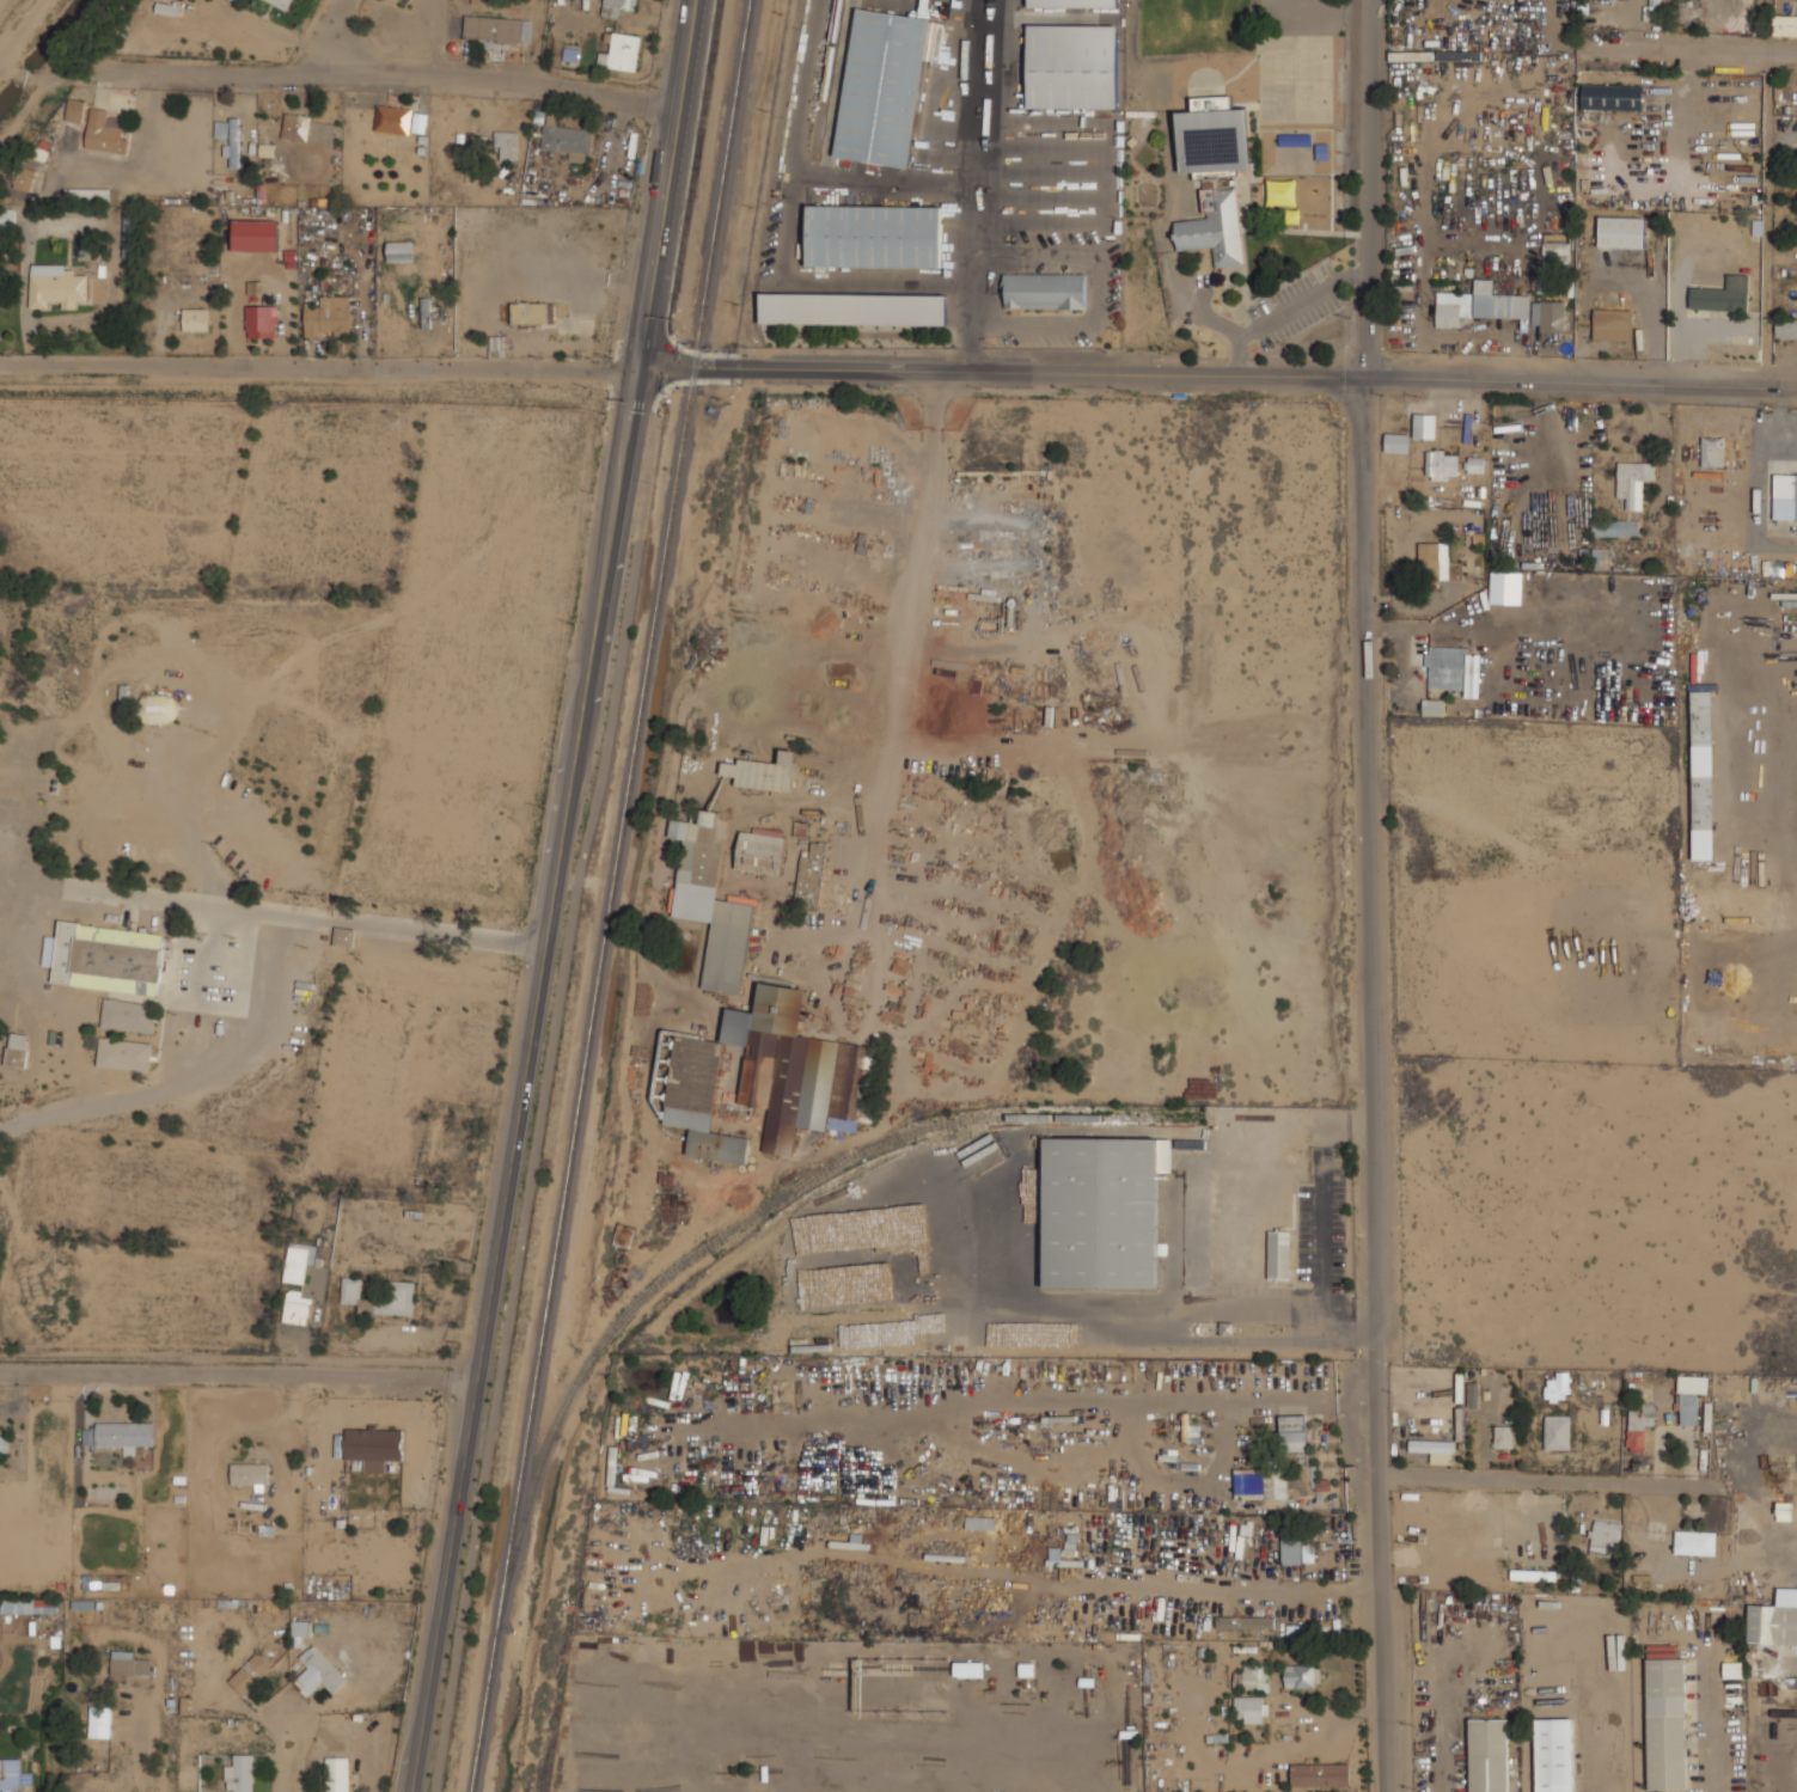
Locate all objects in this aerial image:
building: (237, 0)
building: (404, 0)
building: (410, 0)
building: (283, 2)
building: (1072, 2)
building: (617, 6)
building: (170, 7)
wastewater plant: (6, 8)
building: (1785, 25)
building: (497, 27)
road: (323, 32)
building: (623, 51)
road: (1700, 51)
building: (1072, 66)
road: (399, 79)
railway: (827, 79)
building: (882, 86)
building: (1613, 97)
building: (77, 106)
building: (395, 118)
building: (420, 122)
building: (297, 128)
building: (105, 132)
building: (1215, 137)
building: (232, 139)
building: (568, 140)
building: (507, 145)
building: (268, 148)
building: (42, 149)
building: (25, 177)
road: (662, 184)
building: (90, 194)
building: (1216, 227)
road: (1163, 228)
building: (875, 232)
building: (1621, 232)
building: (132, 234)
building: (402, 250)
building: (1555, 256)
road: (1353, 274)
building: (56, 286)
building: (1045, 290)
building: (1722, 295)
road: (1297, 302)
parking lot: (1296, 304)
building: (1479, 305)
building: (852, 308)
building: (533, 311)
building: (330, 316)
building: (1550, 316)
building: (263, 317)
building: (197, 318)
building: (1612, 324)
building: (1786, 329)
building: (497, 345)
road: (1239, 345)
road: (665, 369)
road: (318, 373)
road: (1246, 373)
building: (1396, 442)
building: (1712, 451)
building: (1441, 464)
building: (1475, 464)
building: (1633, 482)
building: (1785, 488)
building: (1615, 527)
building: (1434, 559)
building: (1453, 672)
building: (55, 693)
building: (124, 703)
building: (1434, 707)
building: (158, 708)
building: (764, 772)
building: (1703, 775)
building: (762, 850)
building: (811, 876)
road: (574, 893)
railway: (613, 895)
road: (1375, 895)
building: (711, 899)
road: (271, 911)
building: (343, 936)
building: (110, 958)
building: (128, 1014)
building: (19, 1048)
building: (124, 1053)
building: (799, 1069)
road: (521, 1081)
building: (701, 1100)
building: (1102, 1211)
railway: (740, 1224)
building: (1279, 1254)
building: (300, 1260)
building: (402, 1290)
building: (299, 1305)
road: (237, 1383)
building: (1558, 1387)
building: (1473, 1394)
building: (1691, 1396)
building: (1639, 1424)
building: (1557, 1431)
building: (1294, 1432)
building: (126, 1433)
building: (1503, 1436)
building: (375, 1444)
building: (1434, 1449)
building: (250, 1474)
building: (1263, 1482)
road: (1557, 1493)
building: (1605, 1537)
building: (1695, 1542)
building: (1296, 1551)
building: (1532, 1574)
building: (29, 1606)
building: (1774, 1620)
building: (1246, 1621)
building: (1295, 1631)
building: (300, 1632)
building: (128, 1664)
building: (324, 1668)
building: (968, 1669)
building: (1731, 1669)
building: (251, 1672)
building: (1300, 1675)
building: (1255, 1678)
building: (1248, 1708)
building: (102, 1721)
building: (1665, 1724)
road: (287, 1749)
building: (1489, 1755)
building: (1553, 1755)
building: (13, 1774)
building: (242, 1774)
building: (338, 1774)
building: (1319, 1774)

